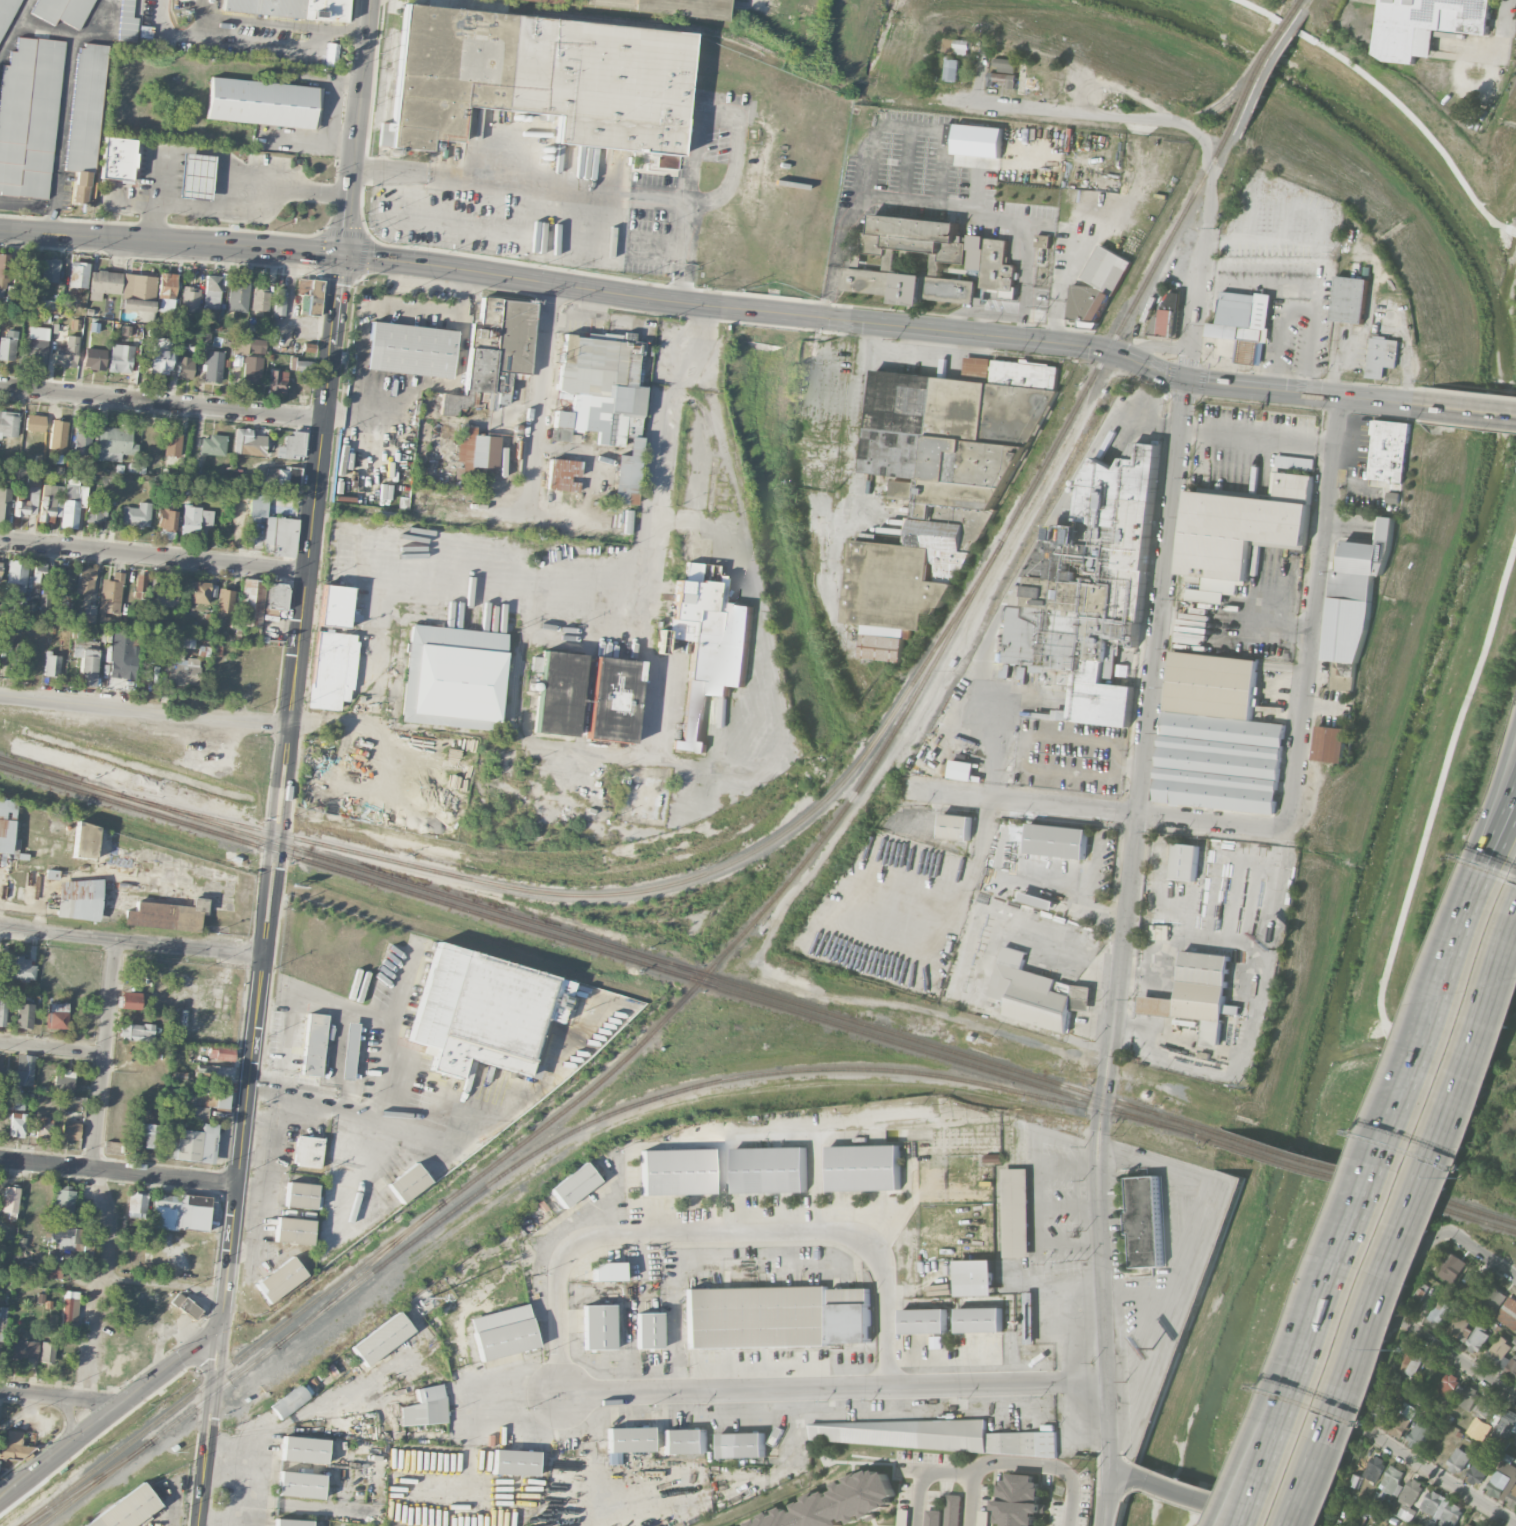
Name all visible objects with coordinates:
railway: (1301, 0)
building: (181, 4)
building: (668, 5)
building: (290, 8)
building: (62, 11)
building: (6, 14)
road: (245, 20)
building: (128, 21)
building: (1425, 23)
road: (1501, 23)
railway: (701, 27)
road: (1467, 42)
building: (950, 45)
building: (962, 46)
building: (1002, 65)
railway: (1263, 67)
building: (951, 69)
building: (434, 73)
road: (981, 73)
building: (1001, 79)
building: (1034, 79)
building: (600, 83)
road: (1389, 97)
building: (264, 103)
road: (1086, 113)
building: (29, 116)
road: (731, 116)
building: (85, 117)
building: (978, 140)
building: (117, 159)
building: (195, 175)
road: (569, 185)
road: (878, 195)
road: (236, 203)
road: (1514, 230)
road: (1293, 239)
building: (1043, 240)
road: (835, 252)
traffic signals: (342, 256)
building: (928, 261)
road: (1204, 264)
building: (27, 269)
road: (1261, 269)
building: (49, 272)
building: (77, 274)
building: (4, 275)
building: (103, 283)
building: (1096, 284)
building: (166, 286)
road: (1060, 288)
building: (137, 292)
building: (212, 292)
building: (309, 295)
building: (238, 296)
building: (190, 299)
building: (260, 299)
building: (1350, 299)
road: (1306, 300)
building: (279, 303)
road: (714, 305)
building: (1166, 315)
building: (1243, 322)
building: (37, 344)
road: (689, 344)
building: (8, 345)
building: (249, 345)
building: (410, 349)
building: (66, 352)
building: (1382, 356)
building: (93, 358)
building: (120, 358)
building: (160, 361)
building: (299, 365)
building: (213, 366)
building: (184, 367)
building: (252, 369)
traffic signals: (1186, 378)
building: (277, 382)
road: (444, 385)
road: (539, 399)
building: (607, 400)
road: (162, 402)
road: (1470, 408)
building: (8, 423)
building: (35, 423)
building: (561, 426)
building: (958, 428)
building: (57, 435)
road: (1257, 436)
building: (82, 441)
building: (112, 442)
building: (248, 442)
building: (172, 443)
building: (213, 445)
building: (291, 446)
building: (601, 449)
building: (1390, 450)
building: (475, 451)
building: (136, 467)
building: (562, 474)
building: (277, 477)
building: (902, 489)
building: (1395, 497)
building: (28, 498)
building: (72, 502)
building: (49, 503)
building: (4, 504)
building: (258, 507)
road: (525, 514)
building: (136, 515)
building: (195, 519)
building: (167, 523)
building: (1243, 528)
building: (280, 536)
road: (153, 554)
road: (1023, 569)
building: (0, 572)
building: (21, 576)
road: (528, 578)
building: (85, 580)
building: (903, 583)
building: (139, 586)
road: (304, 591)
building: (199, 592)
building: (110, 594)
building: (1357, 594)
building: (166, 596)
building: (277, 596)
building: (226, 601)
building: (250, 603)
building: (44, 607)
building: (1086, 608)
road: (1315, 611)
building: (88, 614)
building: (11, 627)
building: (708, 644)
building: (332, 649)
road: (766, 654)
building: (122, 655)
building: (181, 662)
building: (52, 664)
building: (86, 664)
building: (453, 677)
building: (557, 692)
building: (613, 699)
road: (145, 709)
road: (305, 722)
building: (1111, 730)
road: (647, 731)
building: (1217, 736)
building: (1331, 743)
building: (963, 770)
road: (1439, 778)
road: (1493, 796)
road: (1092, 811)
building: (8, 823)
road: (1498, 825)
building: (956, 826)
building: (1057, 840)
building: (85, 841)
road: (1505, 849)
building: (1185, 861)
road: (1065, 889)
railway: (626, 891)
building: (78, 899)
building: (1038, 900)
road: (1469, 914)
building: (166, 915)
road: (1476, 917)
railway: (741, 933)
road: (131, 942)
railway: (609, 944)
road: (1062, 944)
railway: (597, 949)
road: (1121, 951)
building: (20, 968)
road: (1429, 980)
road: (406, 983)
building: (1205, 992)
building: (1034, 993)
building: (130, 1000)
building: (1157, 1005)
road: (1255, 1008)
building: (484, 1011)
building: (2, 1012)
building: (24, 1015)
building: (58, 1015)
road: (1430, 1026)
building: (138, 1032)
road: (1384, 1036)
building: (314, 1044)
road: (53, 1050)
building: (352, 1051)
building: (224, 1054)
road: (106, 1055)
building: (27, 1068)
building: (214, 1072)
building: (63, 1081)
railway: (701, 1084)
road: (264, 1090)
building: (201, 1095)
building: (222, 1098)
road: (375, 1101)
road: (1399, 1103)
road: (509, 1111)
building: (193, 1113)
road: (1454, 1113)
building: (17, 1124)
building: (43, 1126)
road: (1456, 1129)
building: (70, 1130)
building: (148, 1134)
railway: (1204, 1136)
railway: (1312, 1138)
road: (770, 1140)
building: (191, 1144)
building: (307, 1151)
railway: (1299, 1155)
building: (993, 1158)
railway: (1298, 1164)
road: (1066, 1166)
building: (864, 1167)
building: (770, 1169)
road: (119, 1171)
building: (676, 1172)
building: (404, 1180)
building: (574, 1184)
building: (302, 1195)
railway: (1448, 1200)
building: (64, 1201)
building: (10, 1202)
road: (1067, 1204)
building: (136, 1205)
railway: (1448, 1210)
building: (180, 1212)
road: (262, 1212)
building: (1015, 1212)
road: (1395, 1212)
building: (1146, 1221)
road: (1195, 1224)
road: (717, 1229)
building: (293, 1230)
building: (66, 1237)
road: (1069, 1239)
road: (1037, 1242)
road: (1480, 1253)
road: (229, 1259)
building: (1450, 1265)
building: (52, 1266)
railway: (362, 1270)
building: (608, 1272)
building: (975, 1277)
building: (280, 1279)
road: (149, 1283)
road: (101, 1284)
building: (1470, 1285)
road: (1336, 1290)
road: (1138, 1291)
building: (1492, 1296)
building: (1415, 1298)
building: (185, 1306)
building: (70, 1307)
building: (1440, 1312)
building: (1508, 1312)
building: (850, 1315)
road: (1302, 1316)
building: (3, 1317)
building: (757, 1317)
building: (1029, 1317)
road: (1316, 1317)
building: (979, 1319)
building: (924, 1320)
road: (1388, 1321)
building: (1459, 1326)
building: (598, 1327)
building: (648, 1330)
building: (503, 1332)
road: (1143, 1335)
building: (381, 1339)
building: (1477, 1339)
building: (22, 1348)
building: (1500, 1350)
building: (47, 1352)
road: (1454, 1354)
building: (1409, 1361)
building: (1511, 1366)
building: (1448, 1385)
road: (835, 1386)
building: (1468, 1397)
road: (62, 1398)
building: (291, 1400)
road: (1345, 1404)
building: (426, 1407)
building: (1489, 1413)
road: (109, 1416)
building: (1371, 1416)
building: (1400, 1419)
road: (71, 1423)
building: (1505, 1426)
road: (208, 1429)
railway: (157, 1434)
building: (1419, 1434)
building: (923, 1435)
building: (629, 1439)
building: (685, 1441)
building: (1515, 1442)
road: (600, 1443)
building: (743, 1444)
building: (14, 1446)
building: (304, 1449)
building: (1458, 1460)
building: (516, 1462)
road: (994, 1464)
building: (1373, 1468)
road: (250, 1471)
building: (1478, 1471)
road: (1121, 1474)
road: (1432, 1474)
building: (1391, 1480)
railway: (88, 1482)
building: (1504, 1483)
building: (300, 1485)
road: (1180, 1492)
building: (1379, 1496)
road: (970, 1498)
building: (1409, 1498)
building: (1020, 1500)
building: (838, 1503)
building: (127, 1509)
building: (1441, 1509)
building: (953, 1510)
building: (933, 1517)
building: (982, 1518)
road: (1244, 1519)
building: (291, 1522)
building: (1468, 1524)

